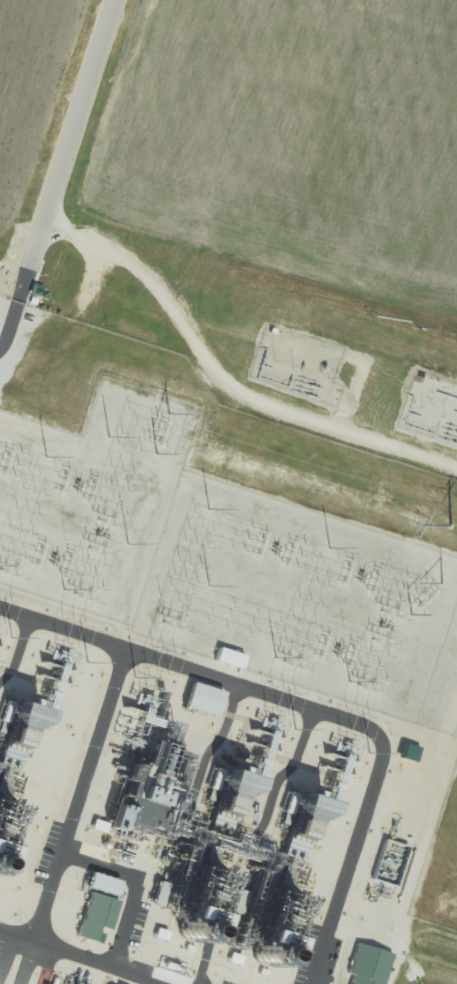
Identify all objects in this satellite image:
road: (70, 132)
power substation: (92, 499)
power tower: (450, 526)
power substation: (300, 596)
power plant: (223, 623)
building: (97, 914)
chimney: (186, 932)
chimney: (260, 956)
building: (369, 964)

